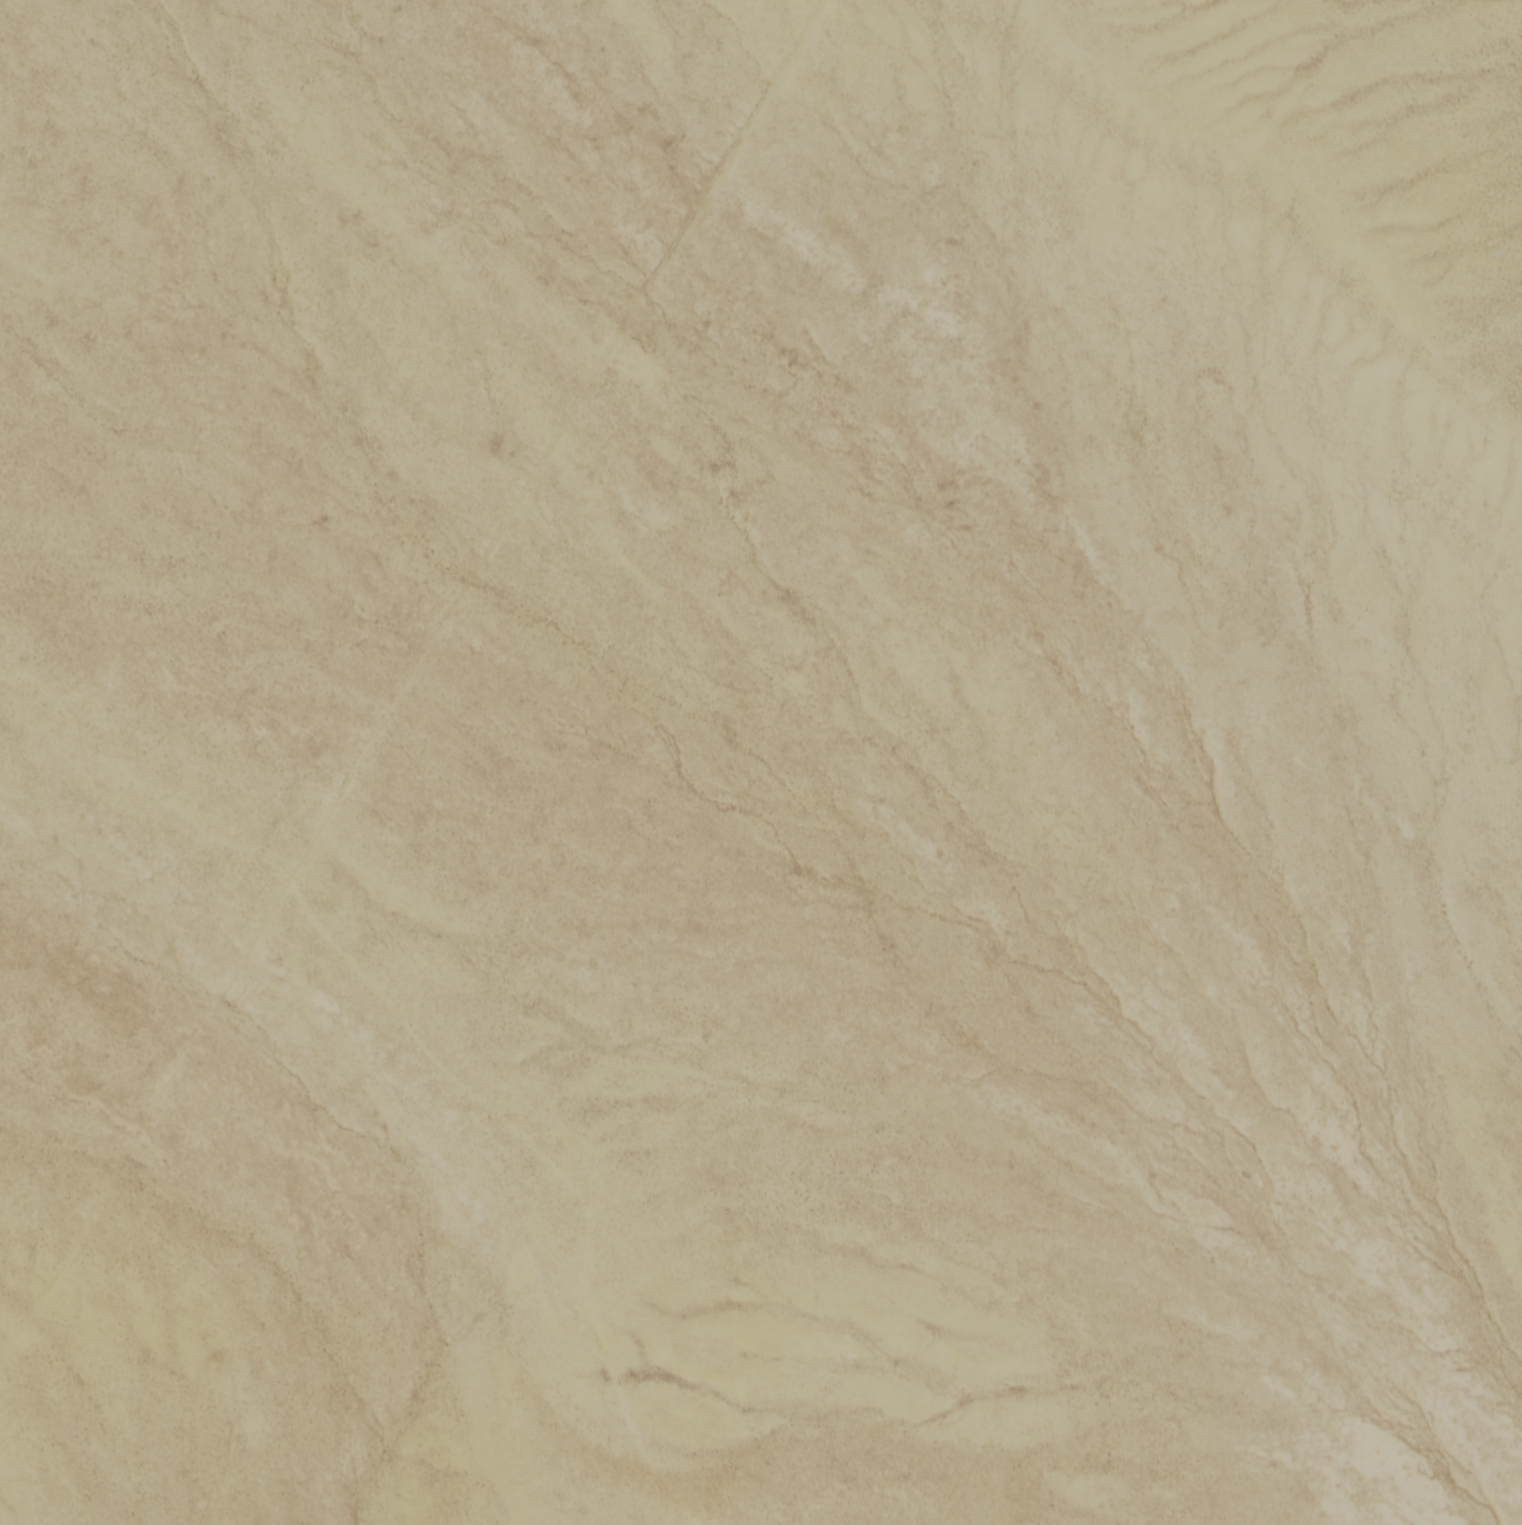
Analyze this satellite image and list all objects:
road: (402, 659)
road: (521, 1181)

